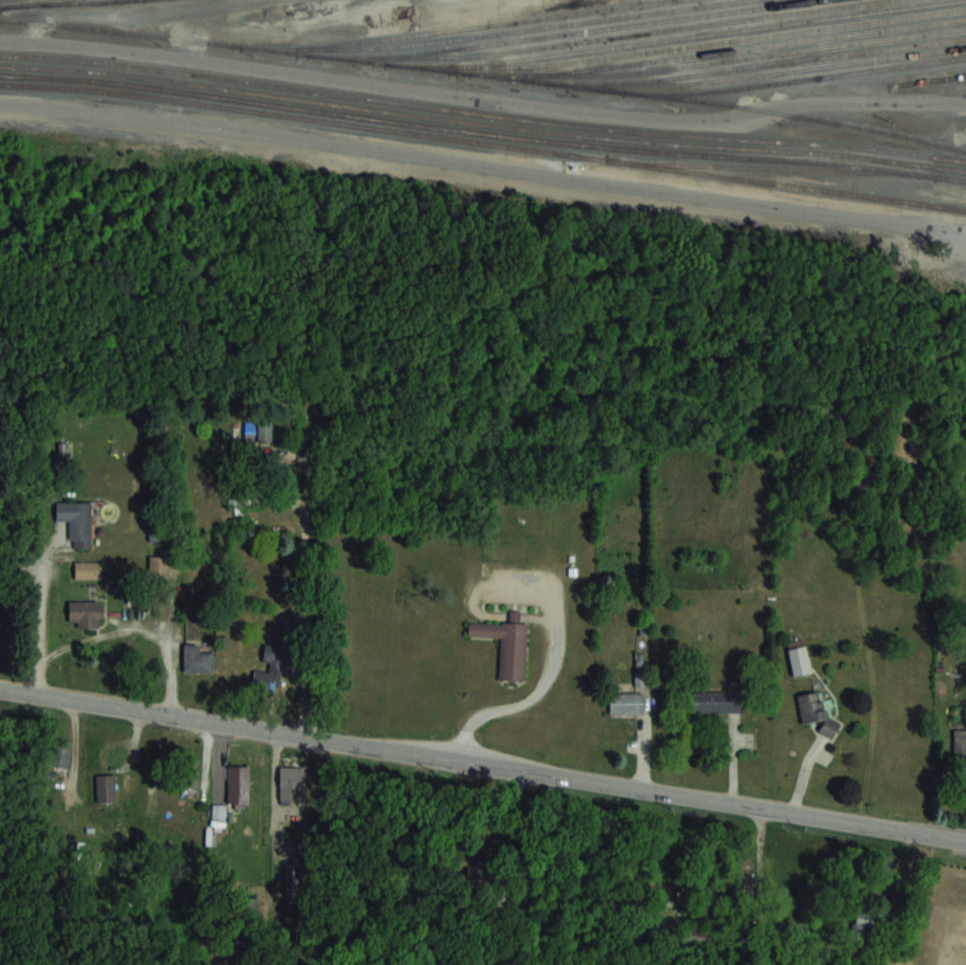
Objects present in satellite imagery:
railway: (28, 2)
railway: (61, 2)
railway: (461, 28)
railway: (526, 28)
railway: (563, 34)
railway: (641, 34)
railway: (682, 37)
railway: (714, 43)
railway: (751, 48)
railway: (724, 61)
railway: (787, 62)
railway: (765, 73)
railway: (484, 75)
railway: (798, 79)
railway: (931, 79)
road: (482, 97)
railway: (482, 113)
railway: (482, 123)
railway: (482, 133)
railway: (483, 142)
road: (483, 163)
railway: (764, 168)
building: (258, 431)
building: (77, 521)
building: (223, 537)
building: (158, 566)
building: (87, 570)
building: (159, 606)
building: (85, 613)
road: (40, 624)
road: (137, 632)
building: (506, 643)
building: (275, 653)
building: (197, 658)
building: (799, 660)
building: (266, 680)
building: (715, 701)
road: (519, 703)
building: (626, 703)
building: (815, 711)
building: (959, 741)
building: (61, 753)
road: (482, 765)
building: (189, 772)
building: (291, 785)
building: (238, 786)
building: (105, 787)
building: (250, 907)
building: (866, 922)
building: (696, 933)

